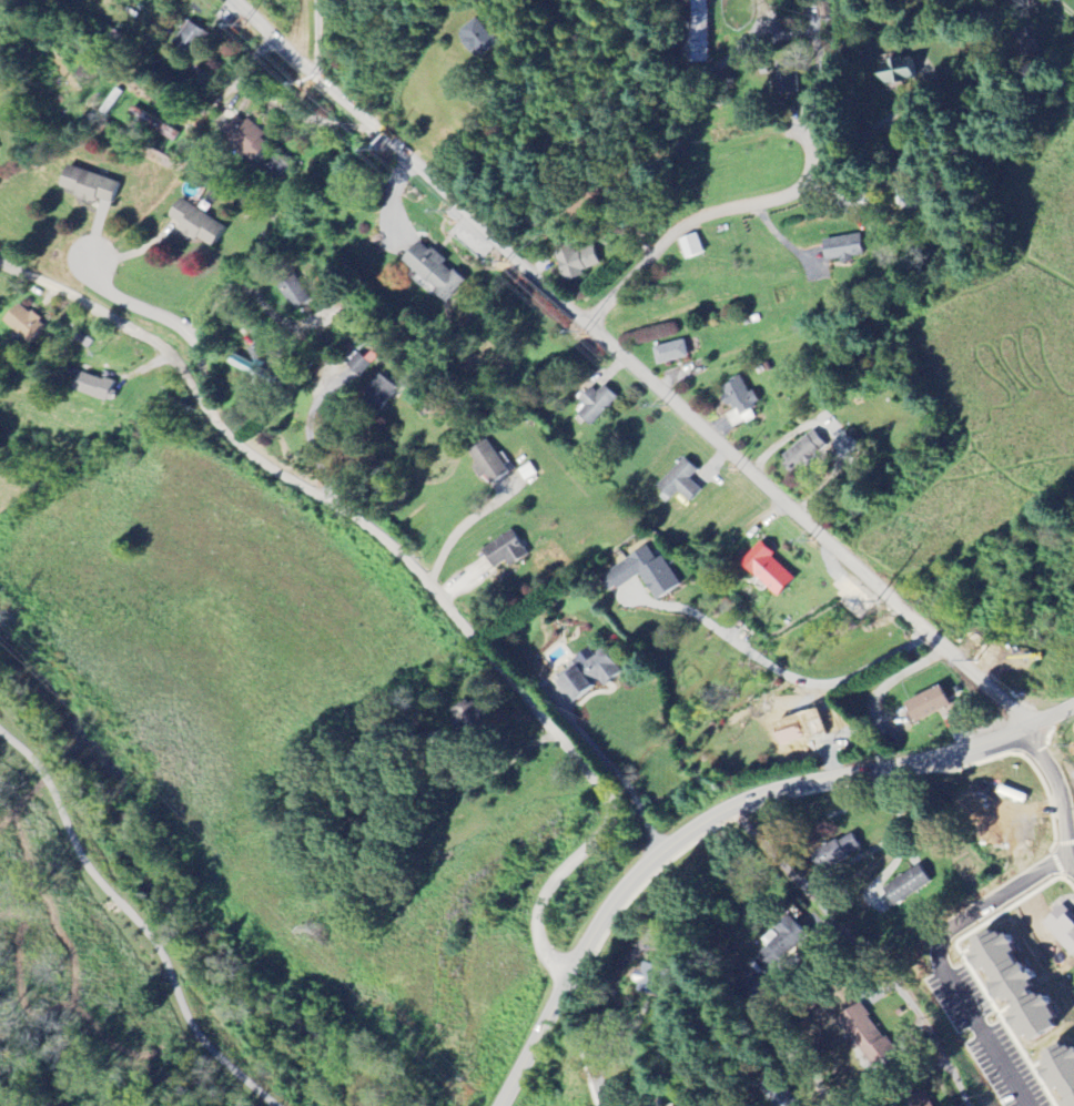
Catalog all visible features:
road: (322, 33)
building: (192, 39)
building: (480, 39)
building: (1023, 44)
road: (812, 50)
building: (901, 72)
building: (788, 83)
road: (275, 104)
road: (879, 123)
building: (249, 139)
building: (93, 187)
road: (702, 213)
building: (201, 225)
building: (693, 247)
building: (848, 250)
building: (577, 263)
building: (437, 271)
road: (225, 290)
building: (296, 296)
road: (172, 322)
building: (29, 325)
building: (672, 354)
building: (361, 361)
road: (634, 366)
building: (98, 388)
building: (384, 389)
building: (741, 403)
building: (597, 405)
building: (851, 447)
building: (808, 453)
building: (492, 466)
building: (682, 483)
road: (463, 525)
building: (507, 554)
road: (414, 568)
building: (764, 570)
building: (639, 575)
power tower: (7, 619)
road: (776, 669)
building: (586, 673)
building: (923, 706)
road: (624, 783)
road: (1050, 792)
road: (720, 813)
building: (833, 852)
road: (1071, 860)
building: (902, 886)
road: (135, 920)
park: (141, 922)
building: (1057, 930)
power tower: (318, 931)
building: (782, 937)
road: (860, 951)
road: (939, 960)
road: (766, 984)
building: (1002, 985)
building: (860, 1034)
road: (581, 1045)
building: (1055, 1074)
building: (774, 1094)
building: (913, 1099)

